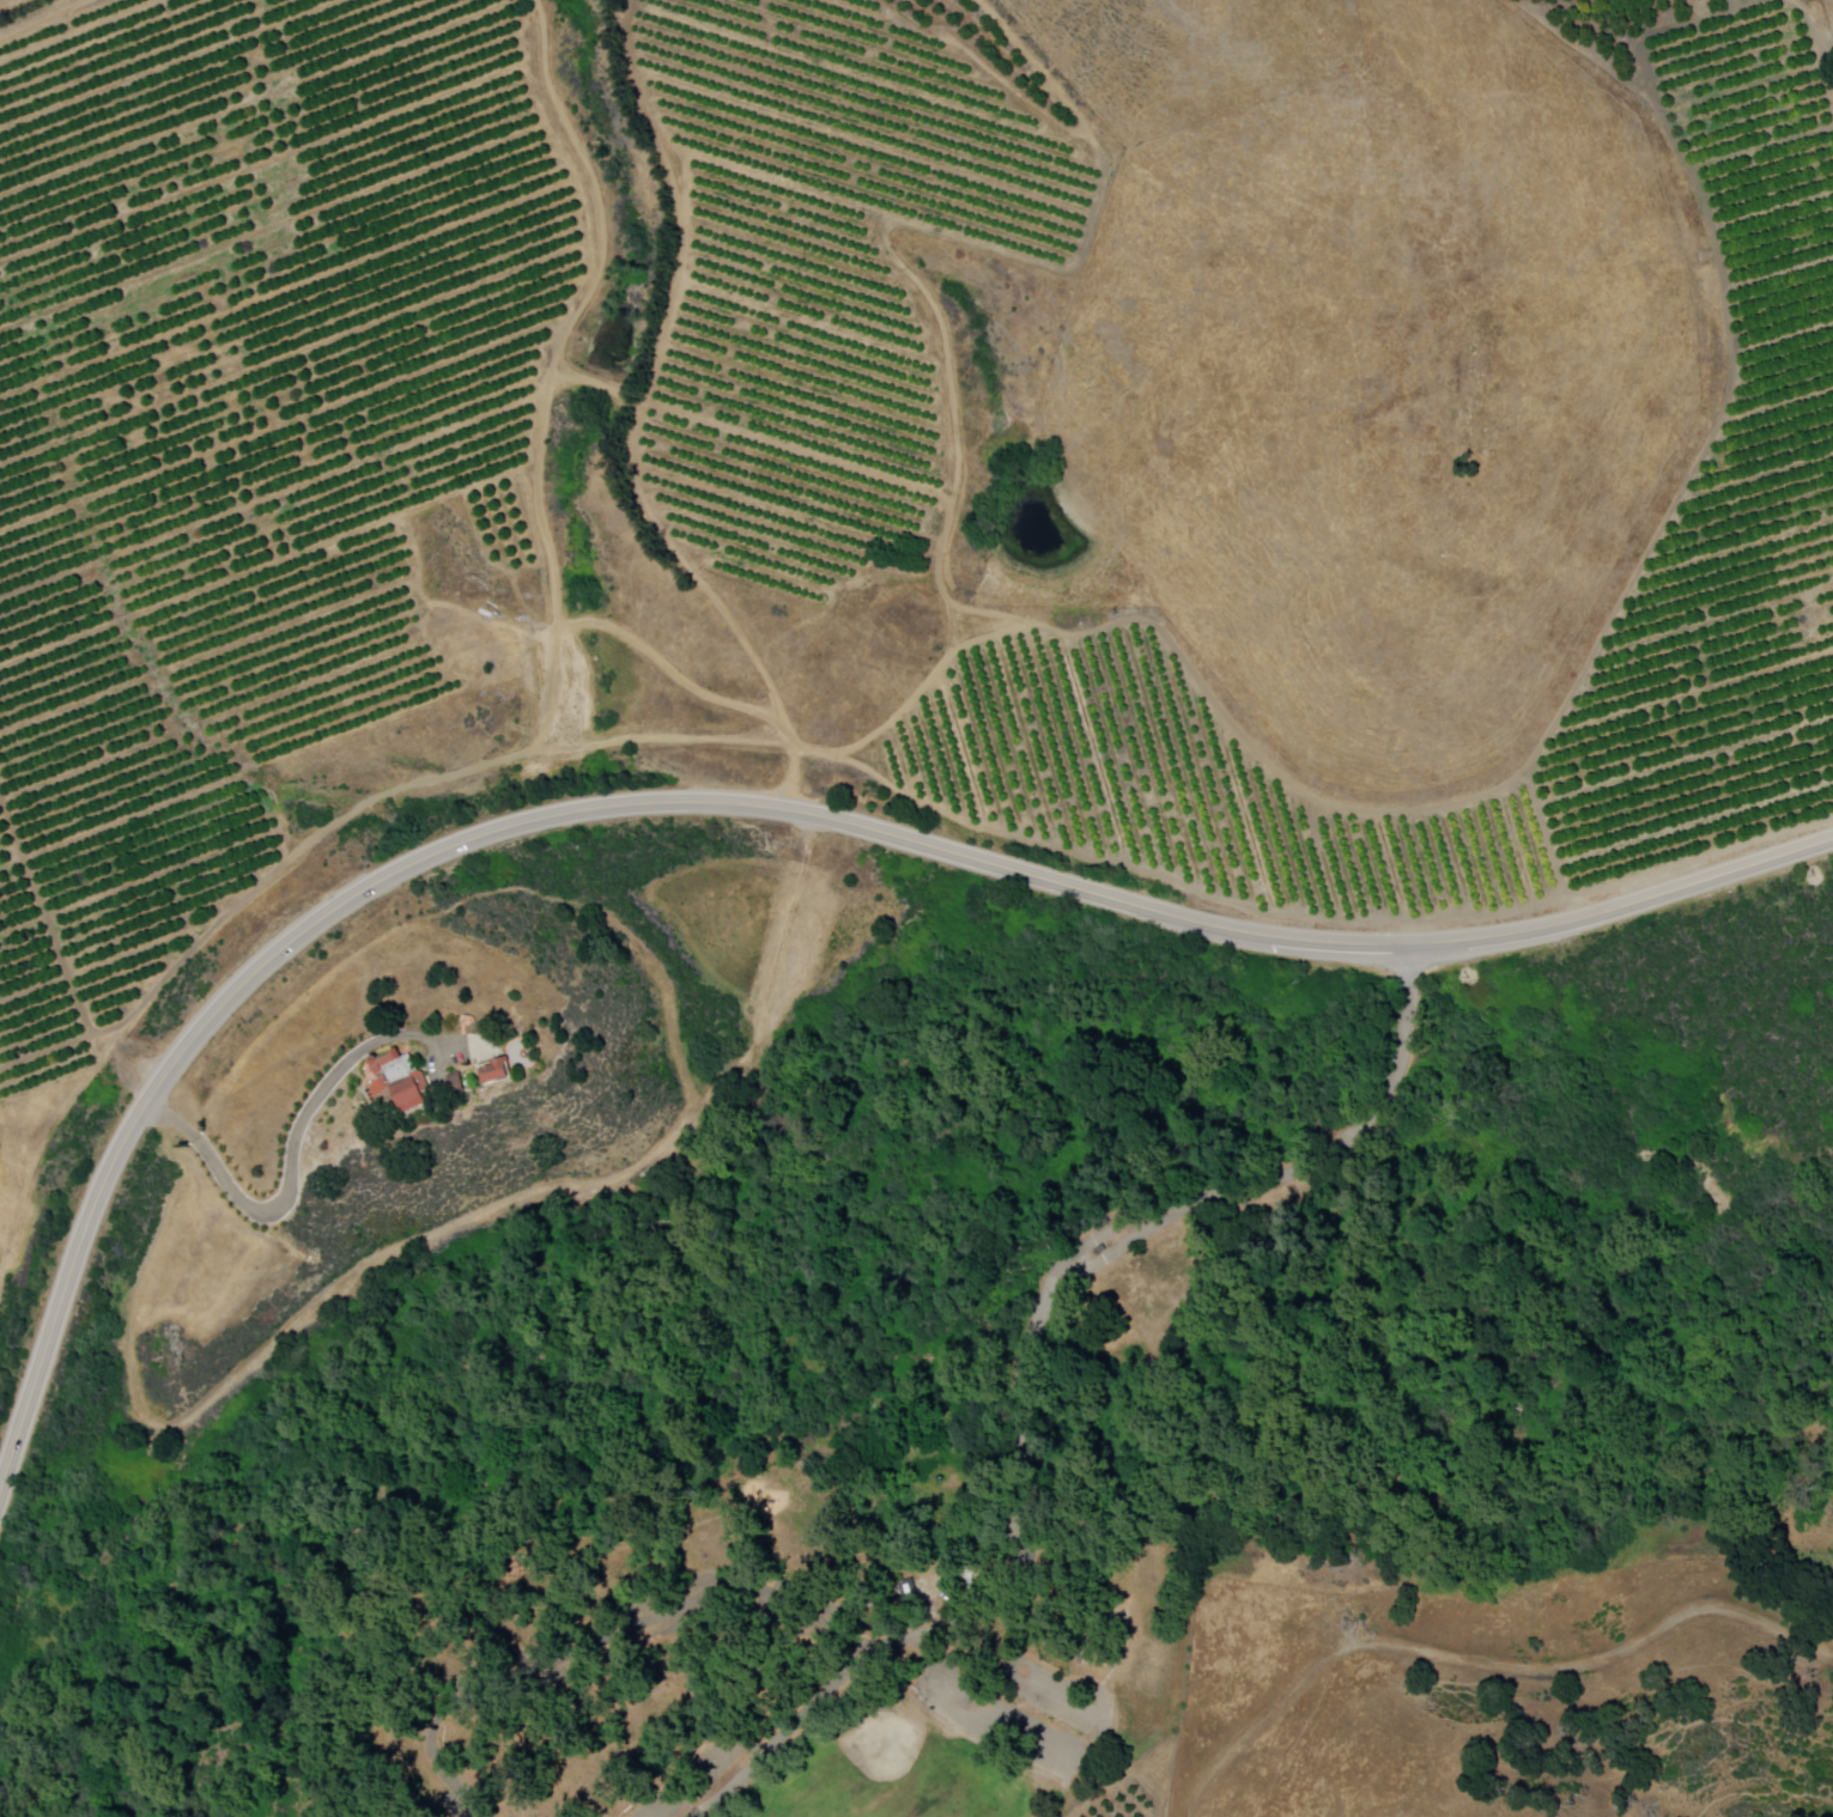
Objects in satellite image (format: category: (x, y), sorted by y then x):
crop: (472, 399)
road: (741, 803)
building: (389, 1065)
building: (498, 1072)
building: (459, 1083)
building: (413, 1093)
road: (1335, 1143)
road: (295, 1168)
road: (1093, 1241)
building: (1103, 1248)
road: (1107, 1259)
park: (875, 1459)
building: (509, 1563)
park: (1146, 1564)
building: (912, 1590)
road: (982, 1604)
road: (669, 1614)
road: (1483, 1663)
park: (1151, 1670)
road: (1084, 1755)
park: (902, 1770)
building: (441, 1811)
park: (572, 1815)

